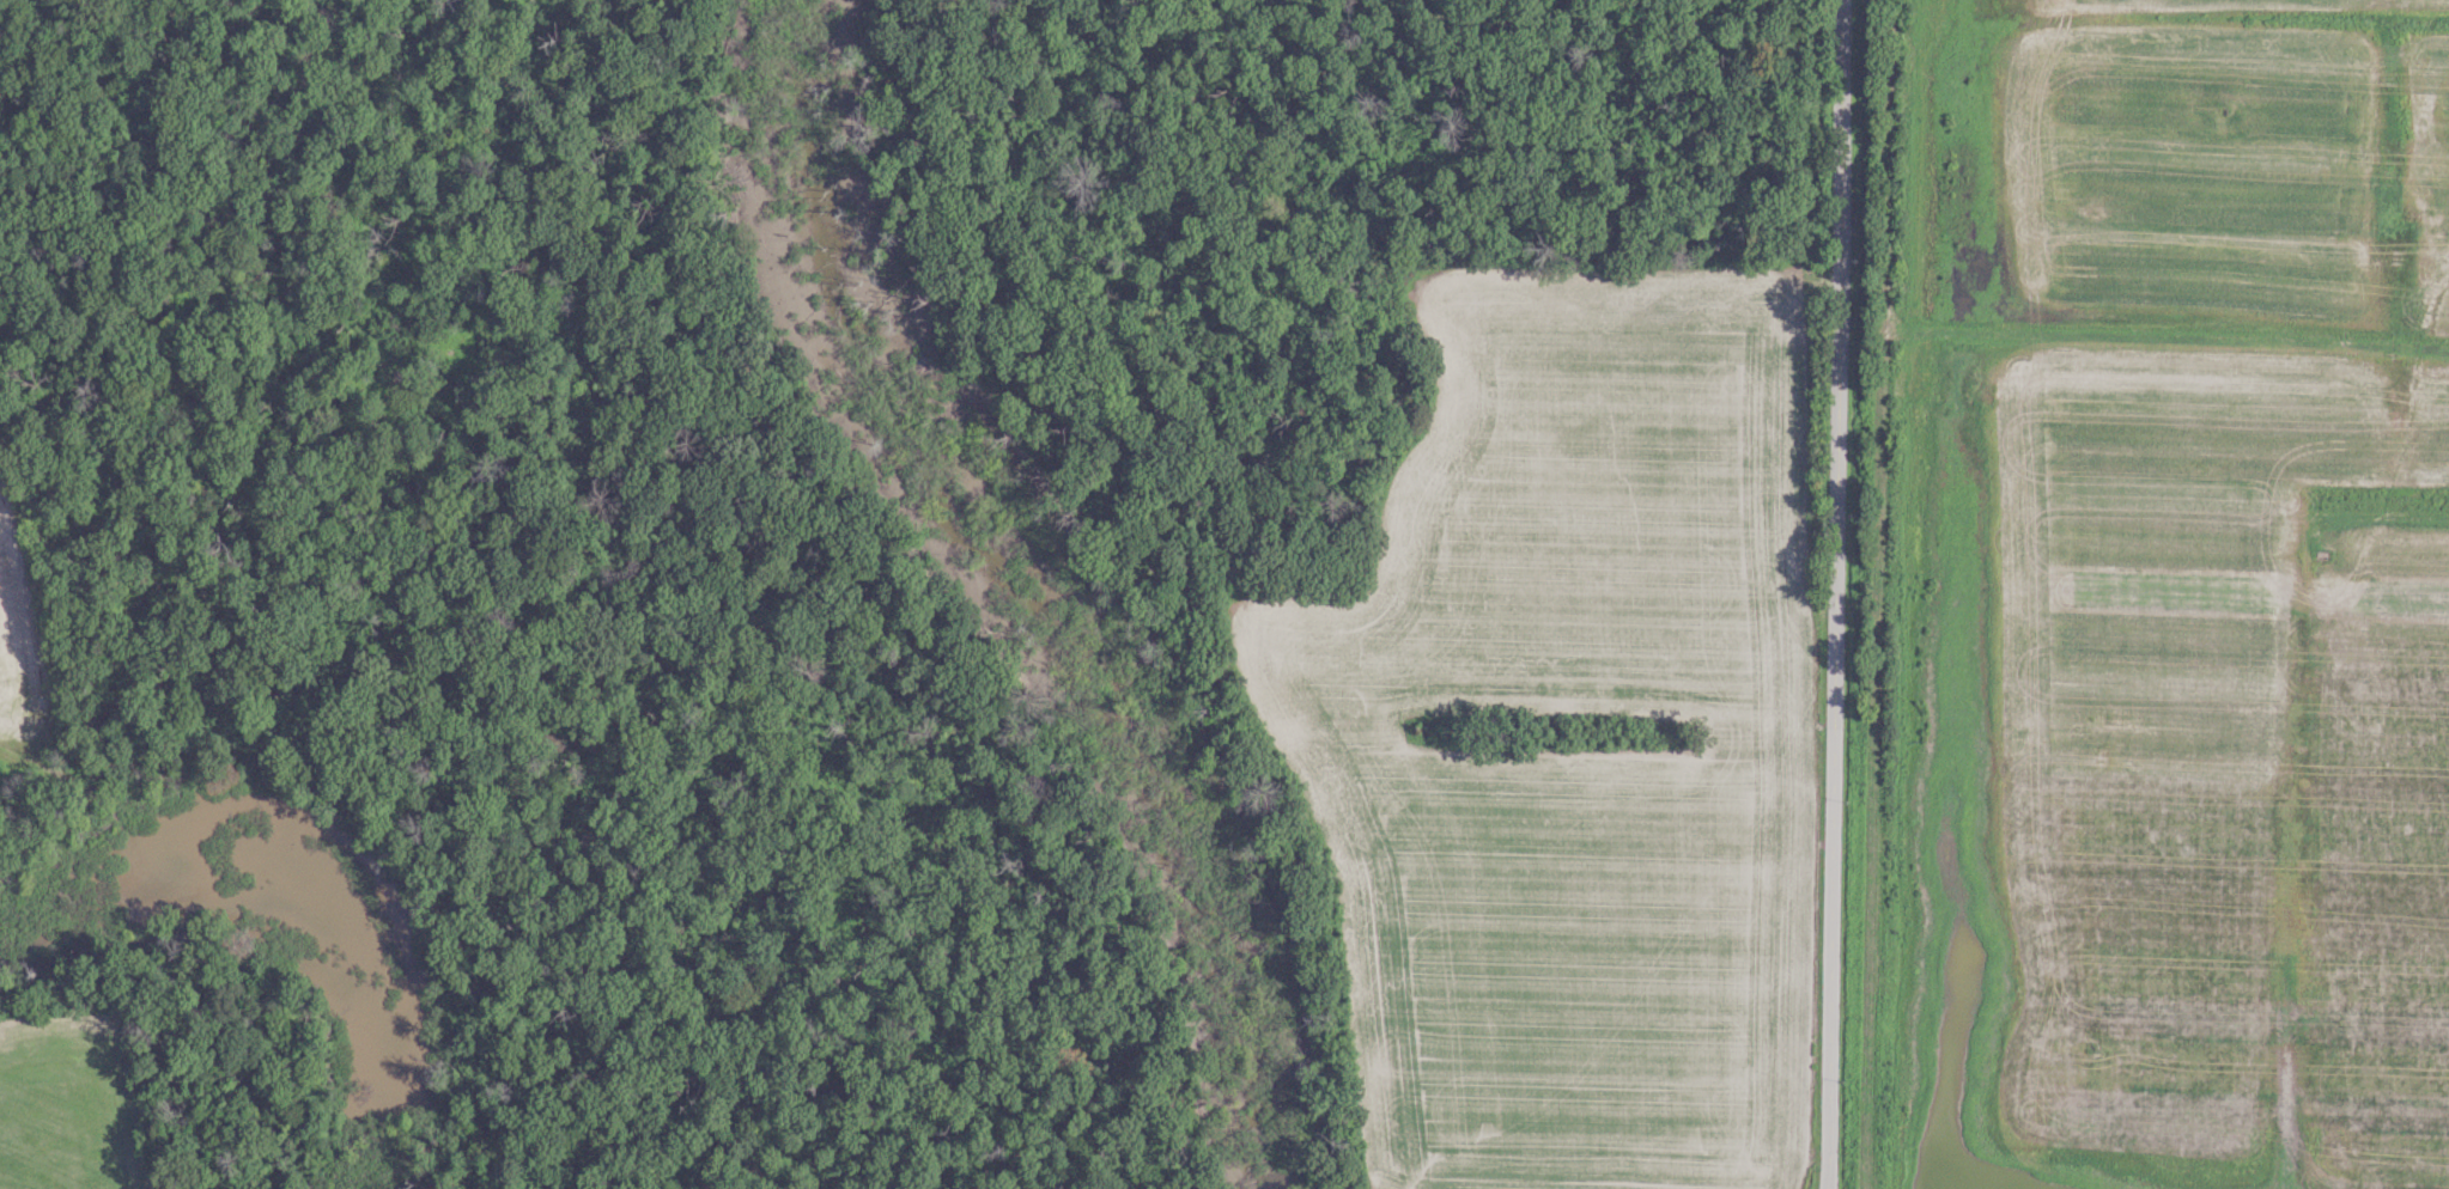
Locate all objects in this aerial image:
road: (1835, 593)

